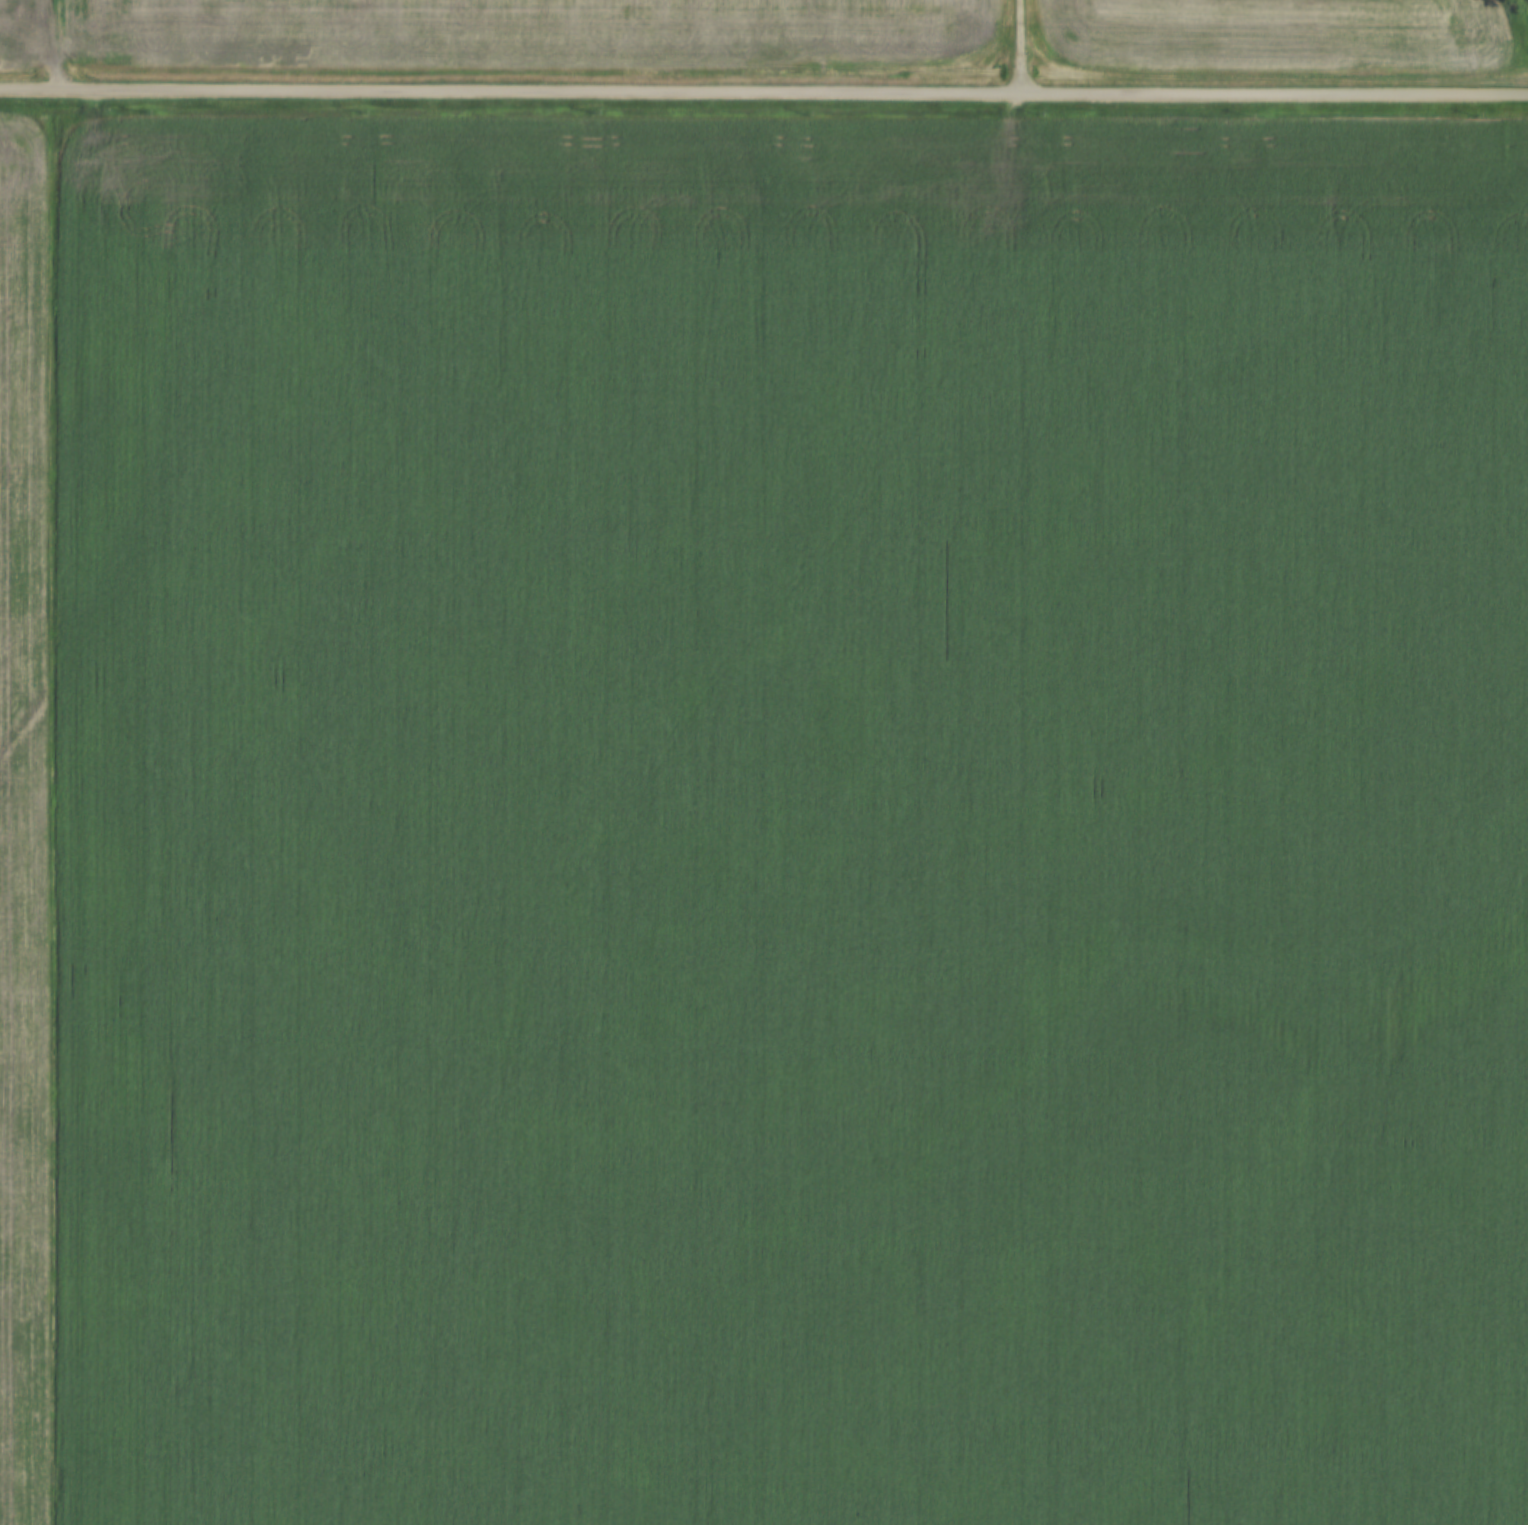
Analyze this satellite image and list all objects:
road: (1019, 49)
road: (764, 97)

